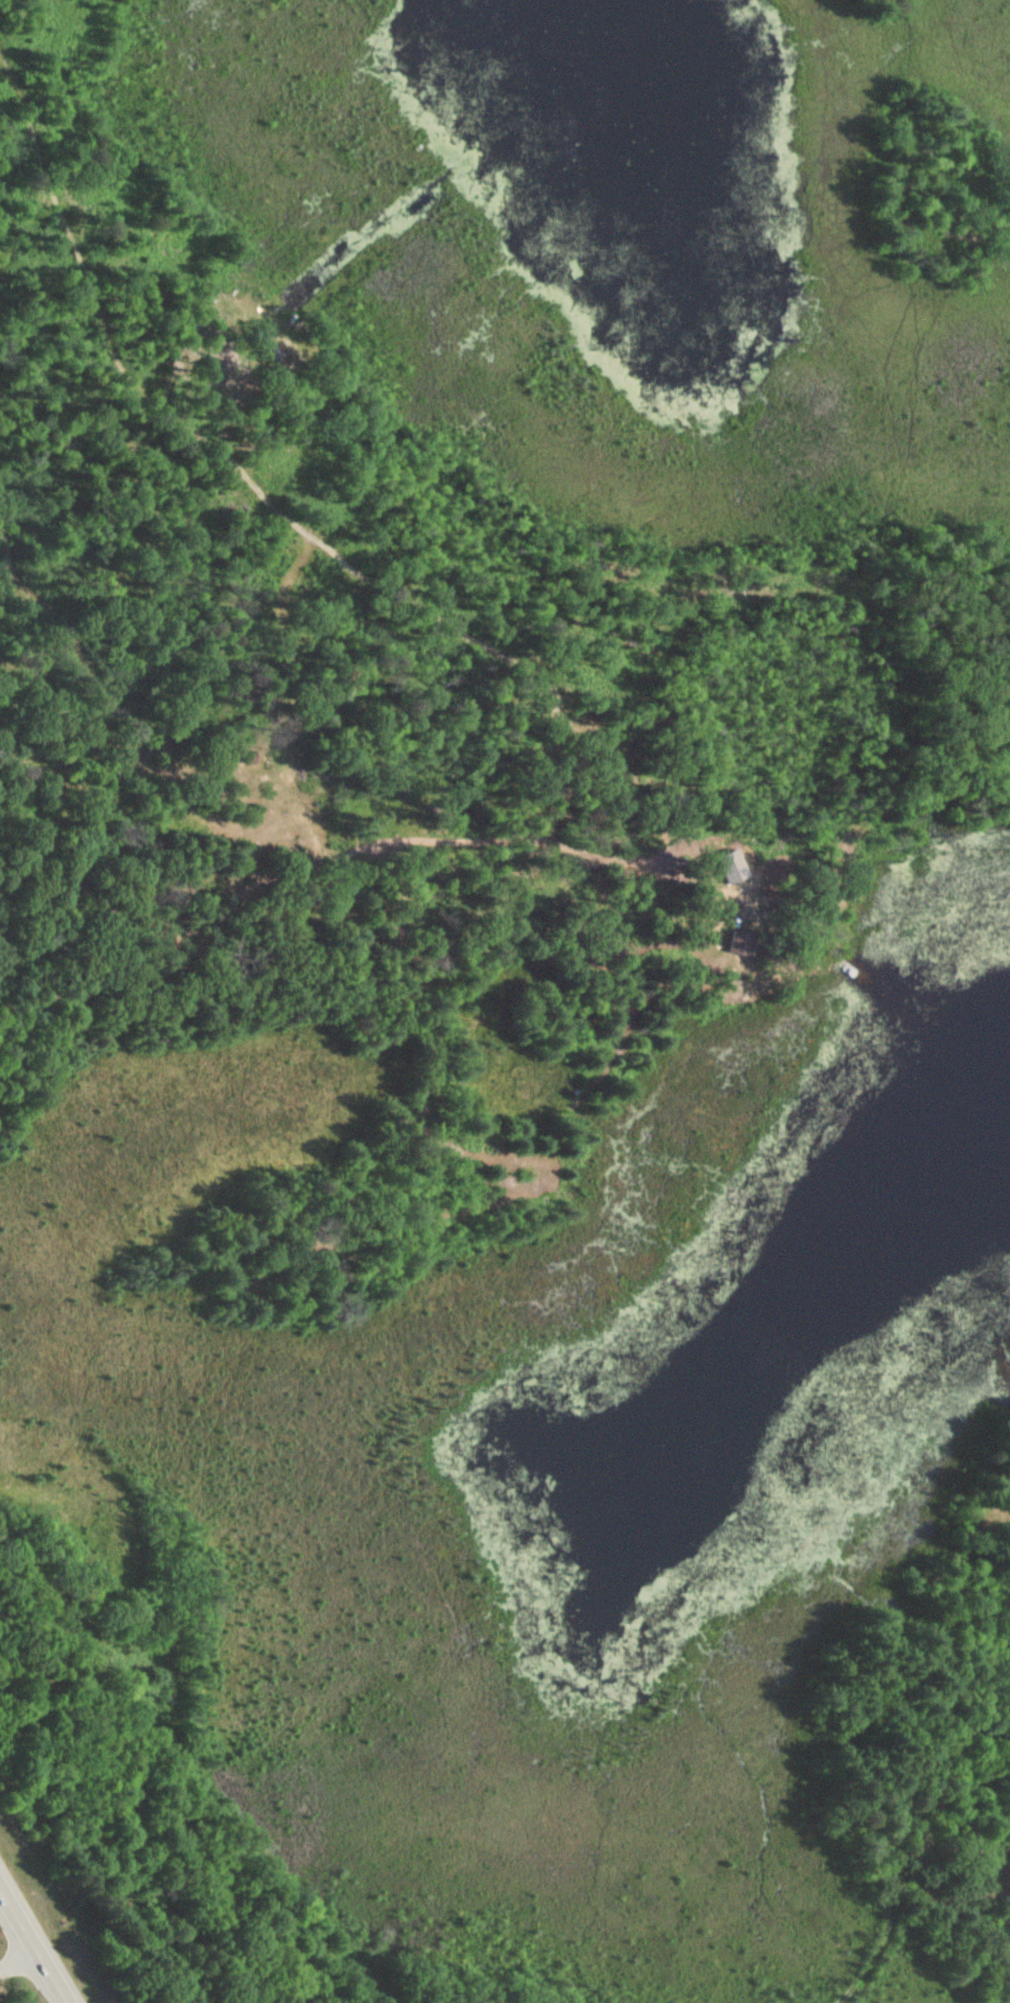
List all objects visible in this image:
road: (35, 1941)
road: (21, 1962)

